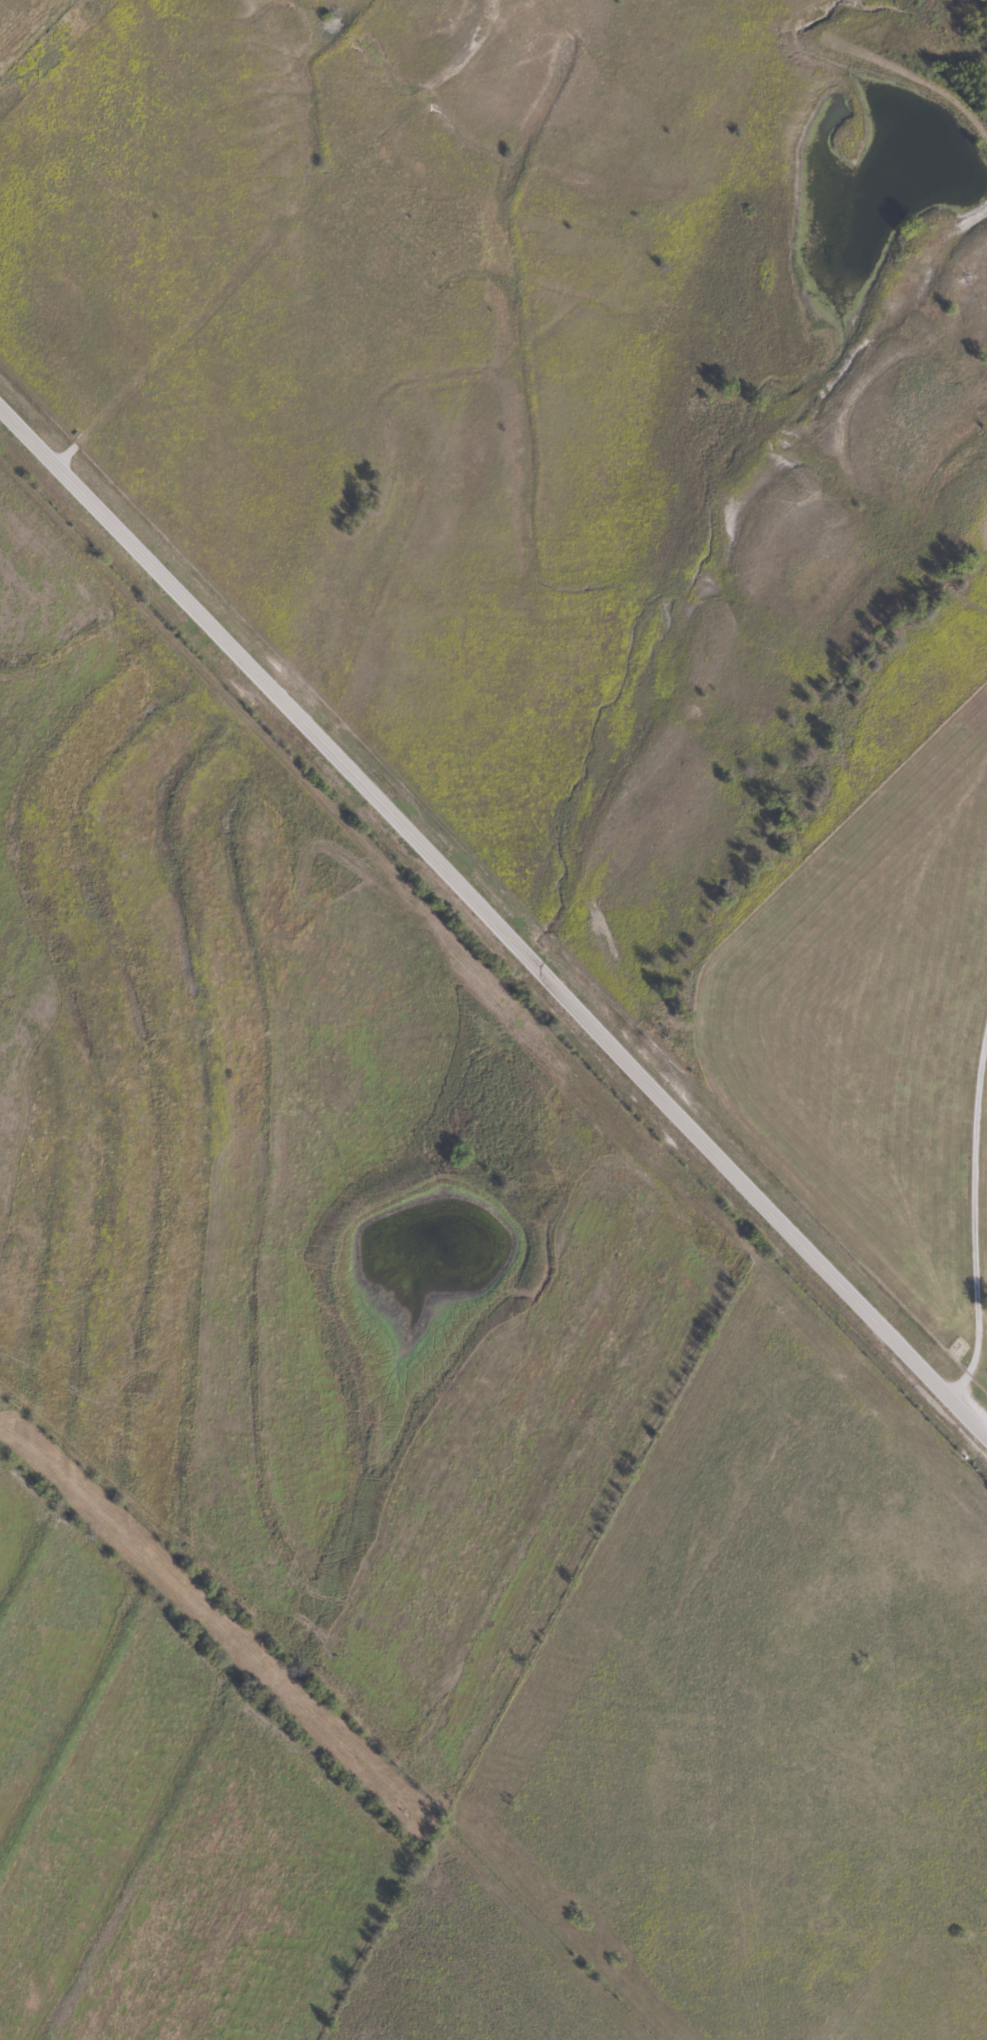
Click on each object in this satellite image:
road: (295, 221)
road: (492, 922)
road: (973, 1223)

